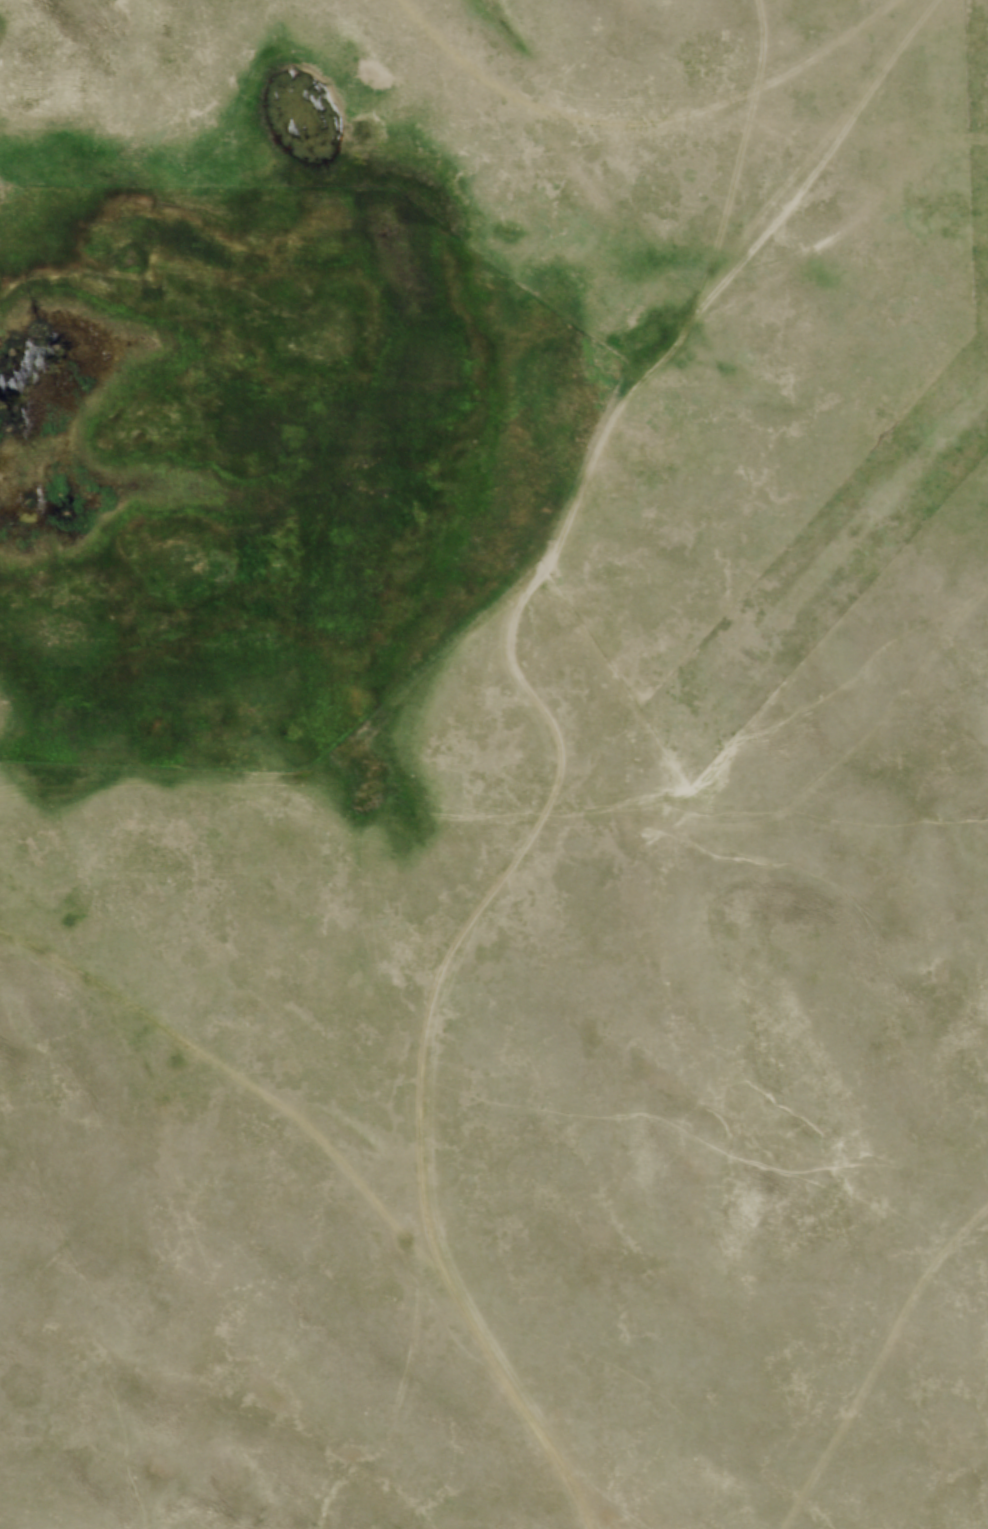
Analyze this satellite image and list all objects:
airport runway: (886, 500)

